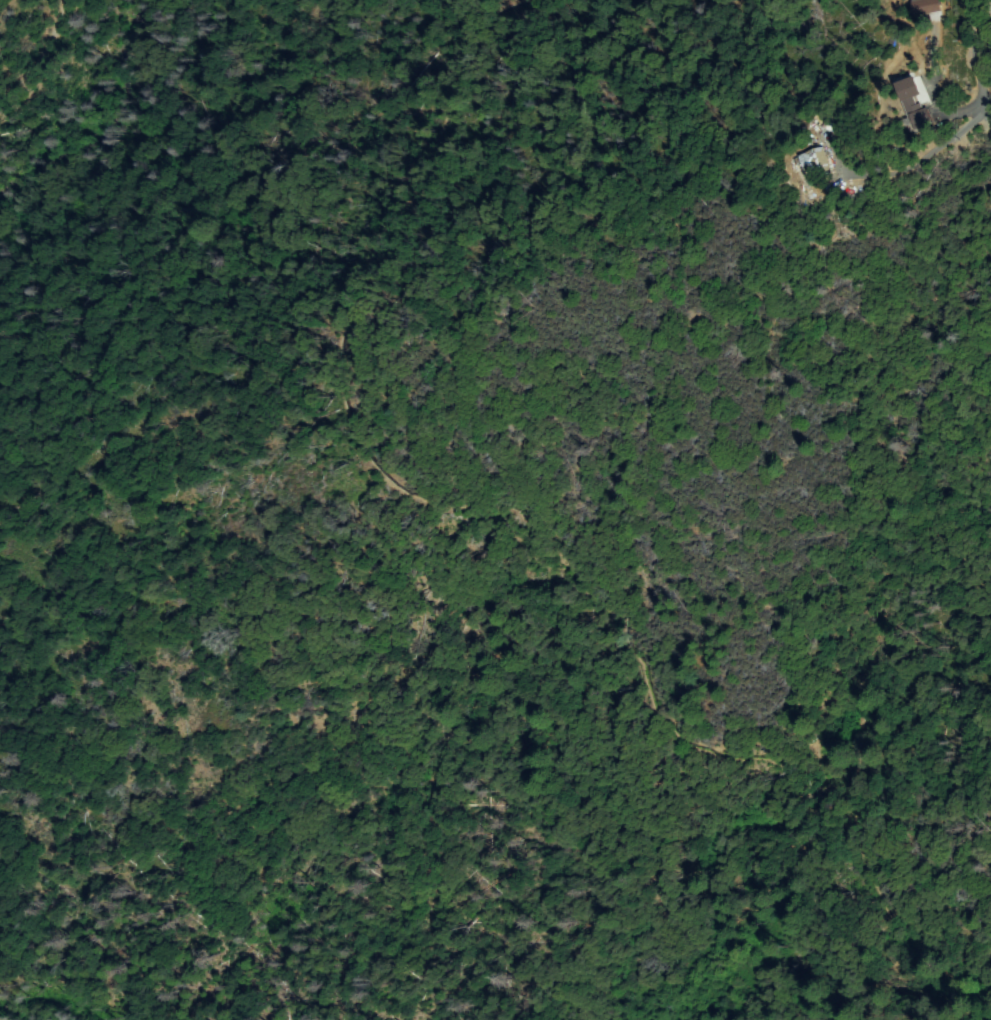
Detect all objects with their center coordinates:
building: (926, 6)
road: (34, 50)
building: (916, 114)
road: (936, 142)
road: (643, 161)
building: (815, 162)

